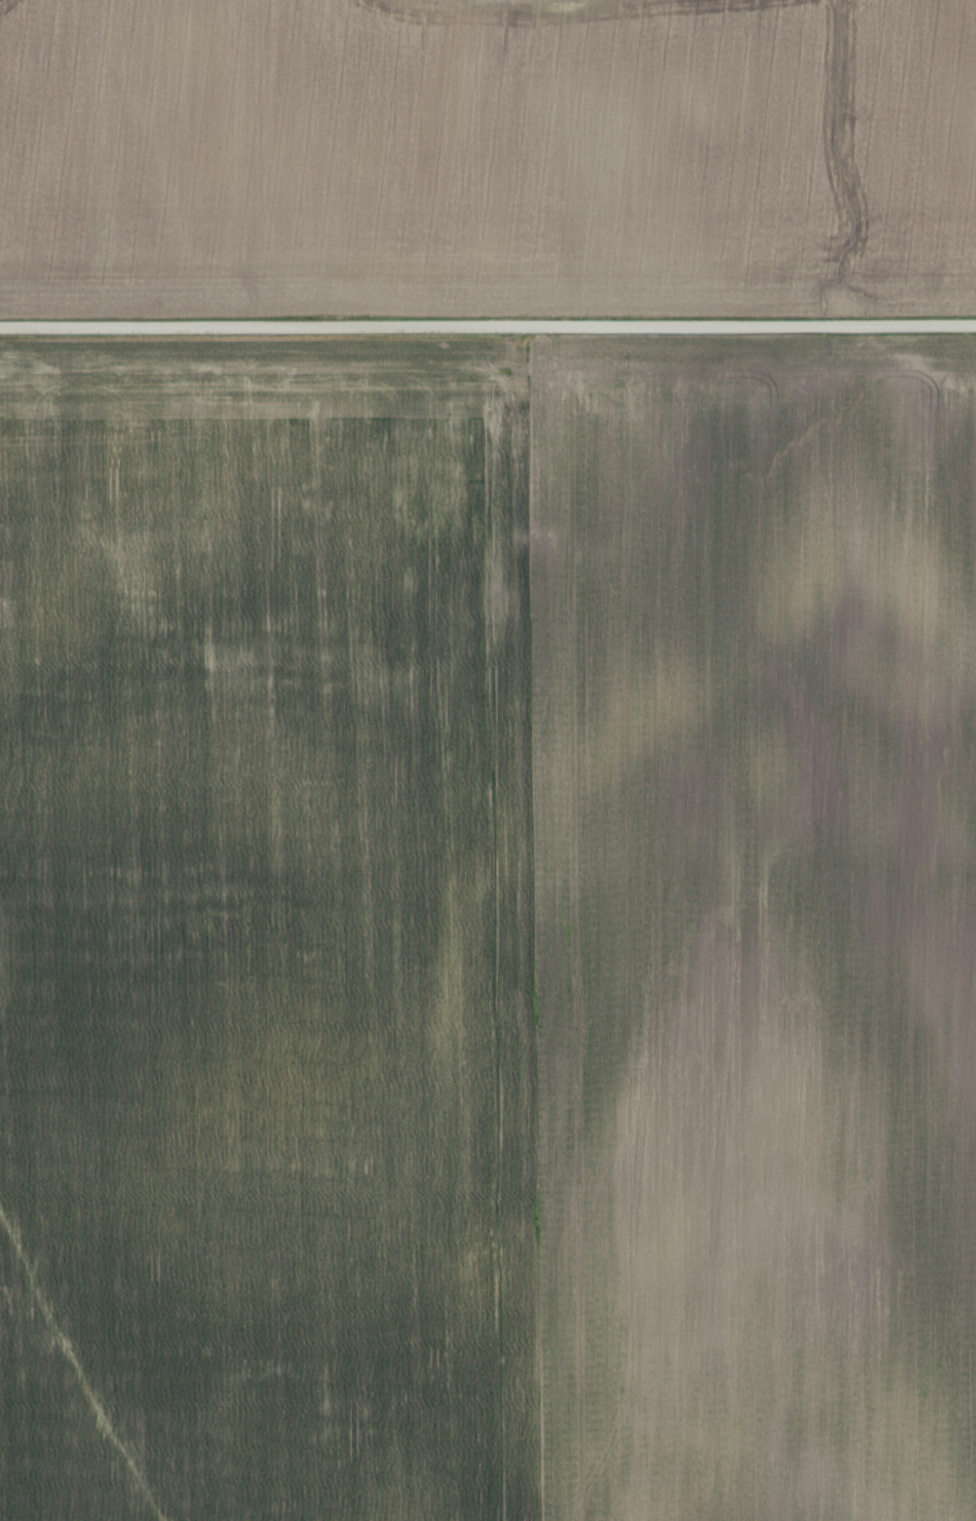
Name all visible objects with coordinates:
road: (488, 326)

